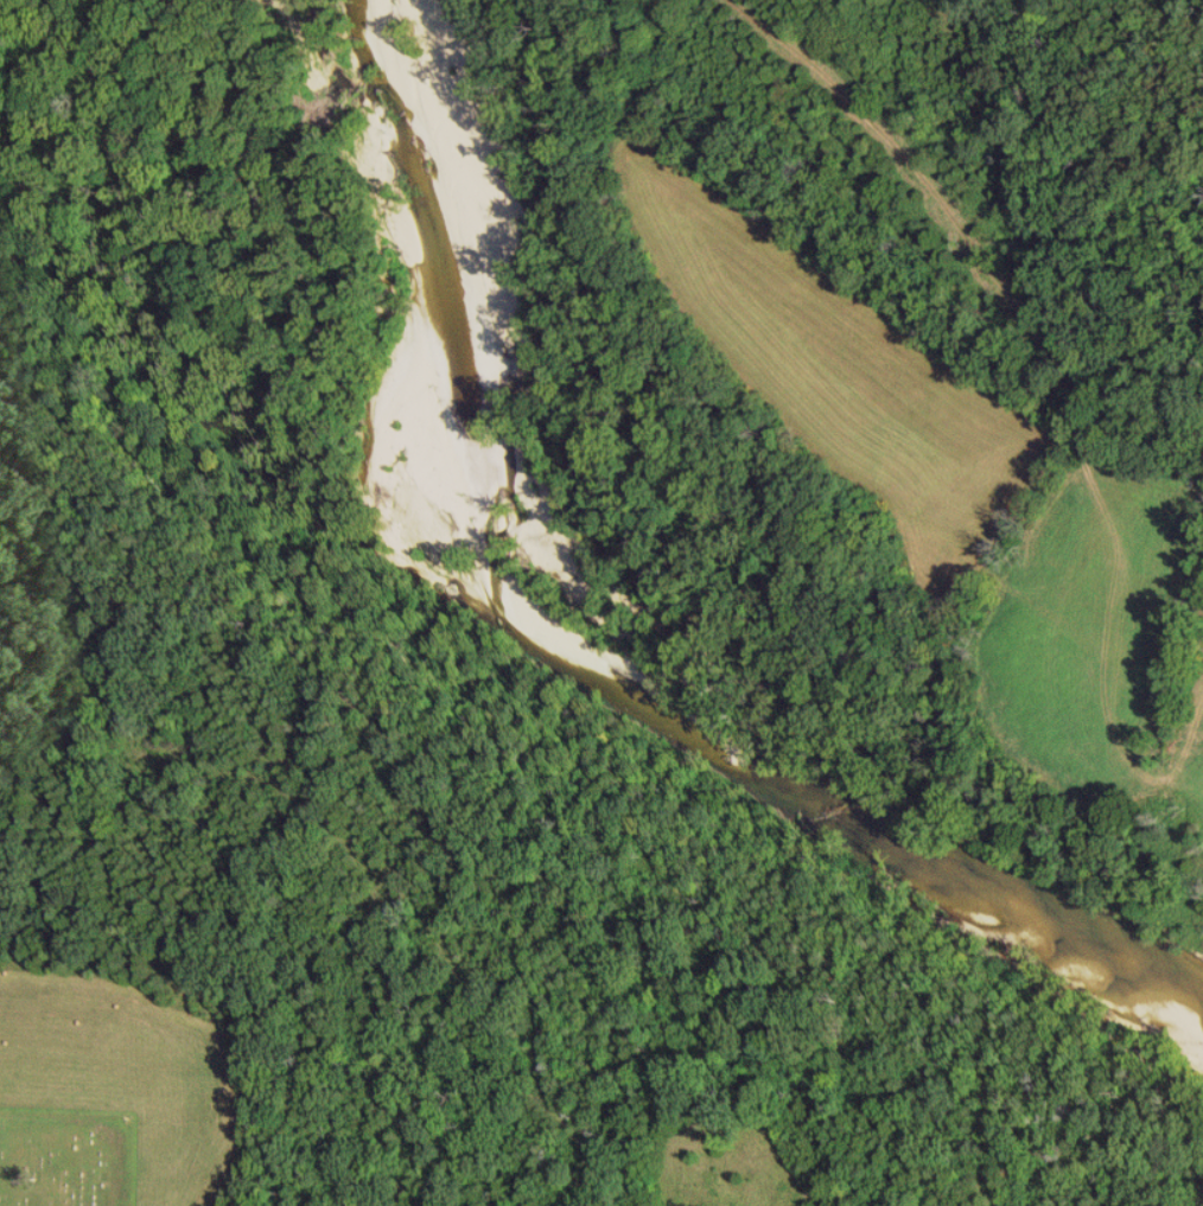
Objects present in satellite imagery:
road: (1185, 713)
park: (64, 1159)

